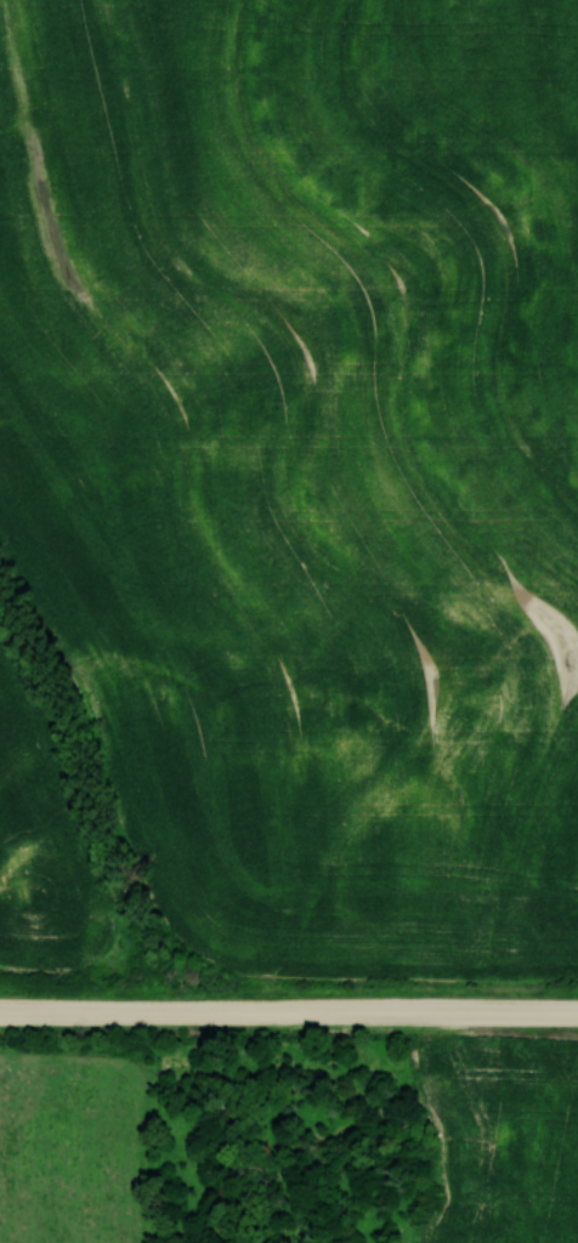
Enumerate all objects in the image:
road: (289, 1011)

